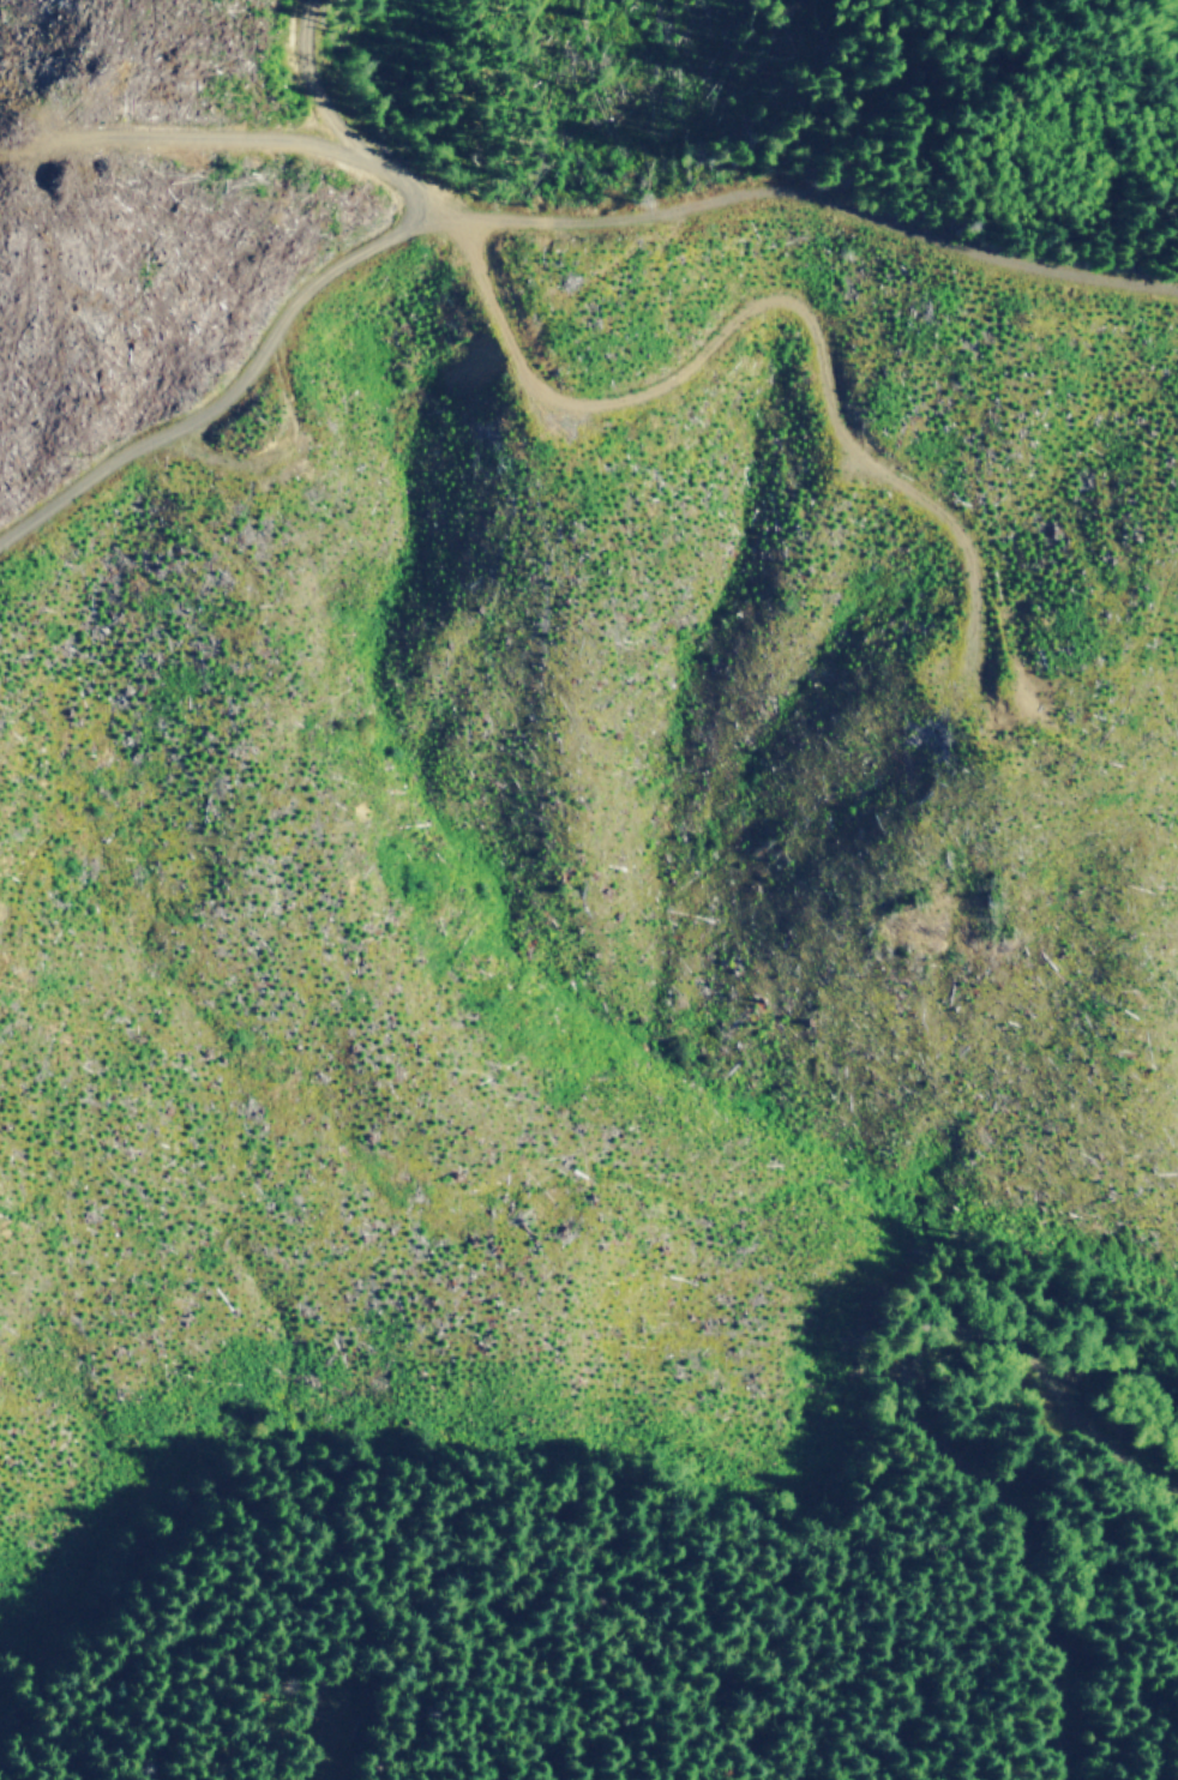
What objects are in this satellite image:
road: (521, 329)
road: (943, 1384)
road: (308, 1757)

